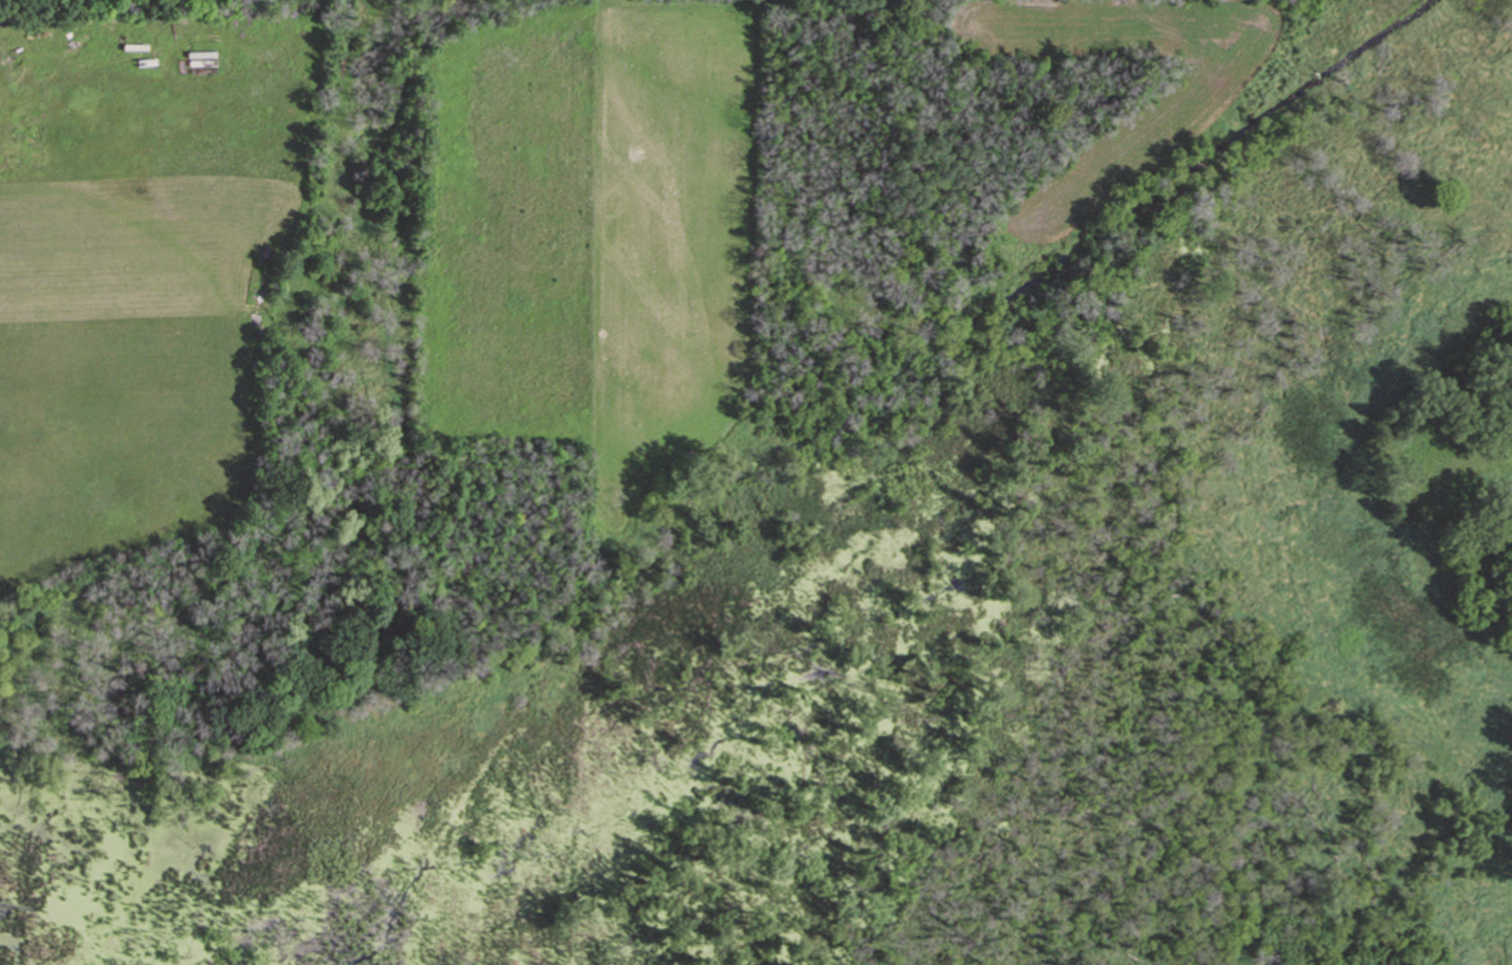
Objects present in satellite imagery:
crop: (671, 234)

